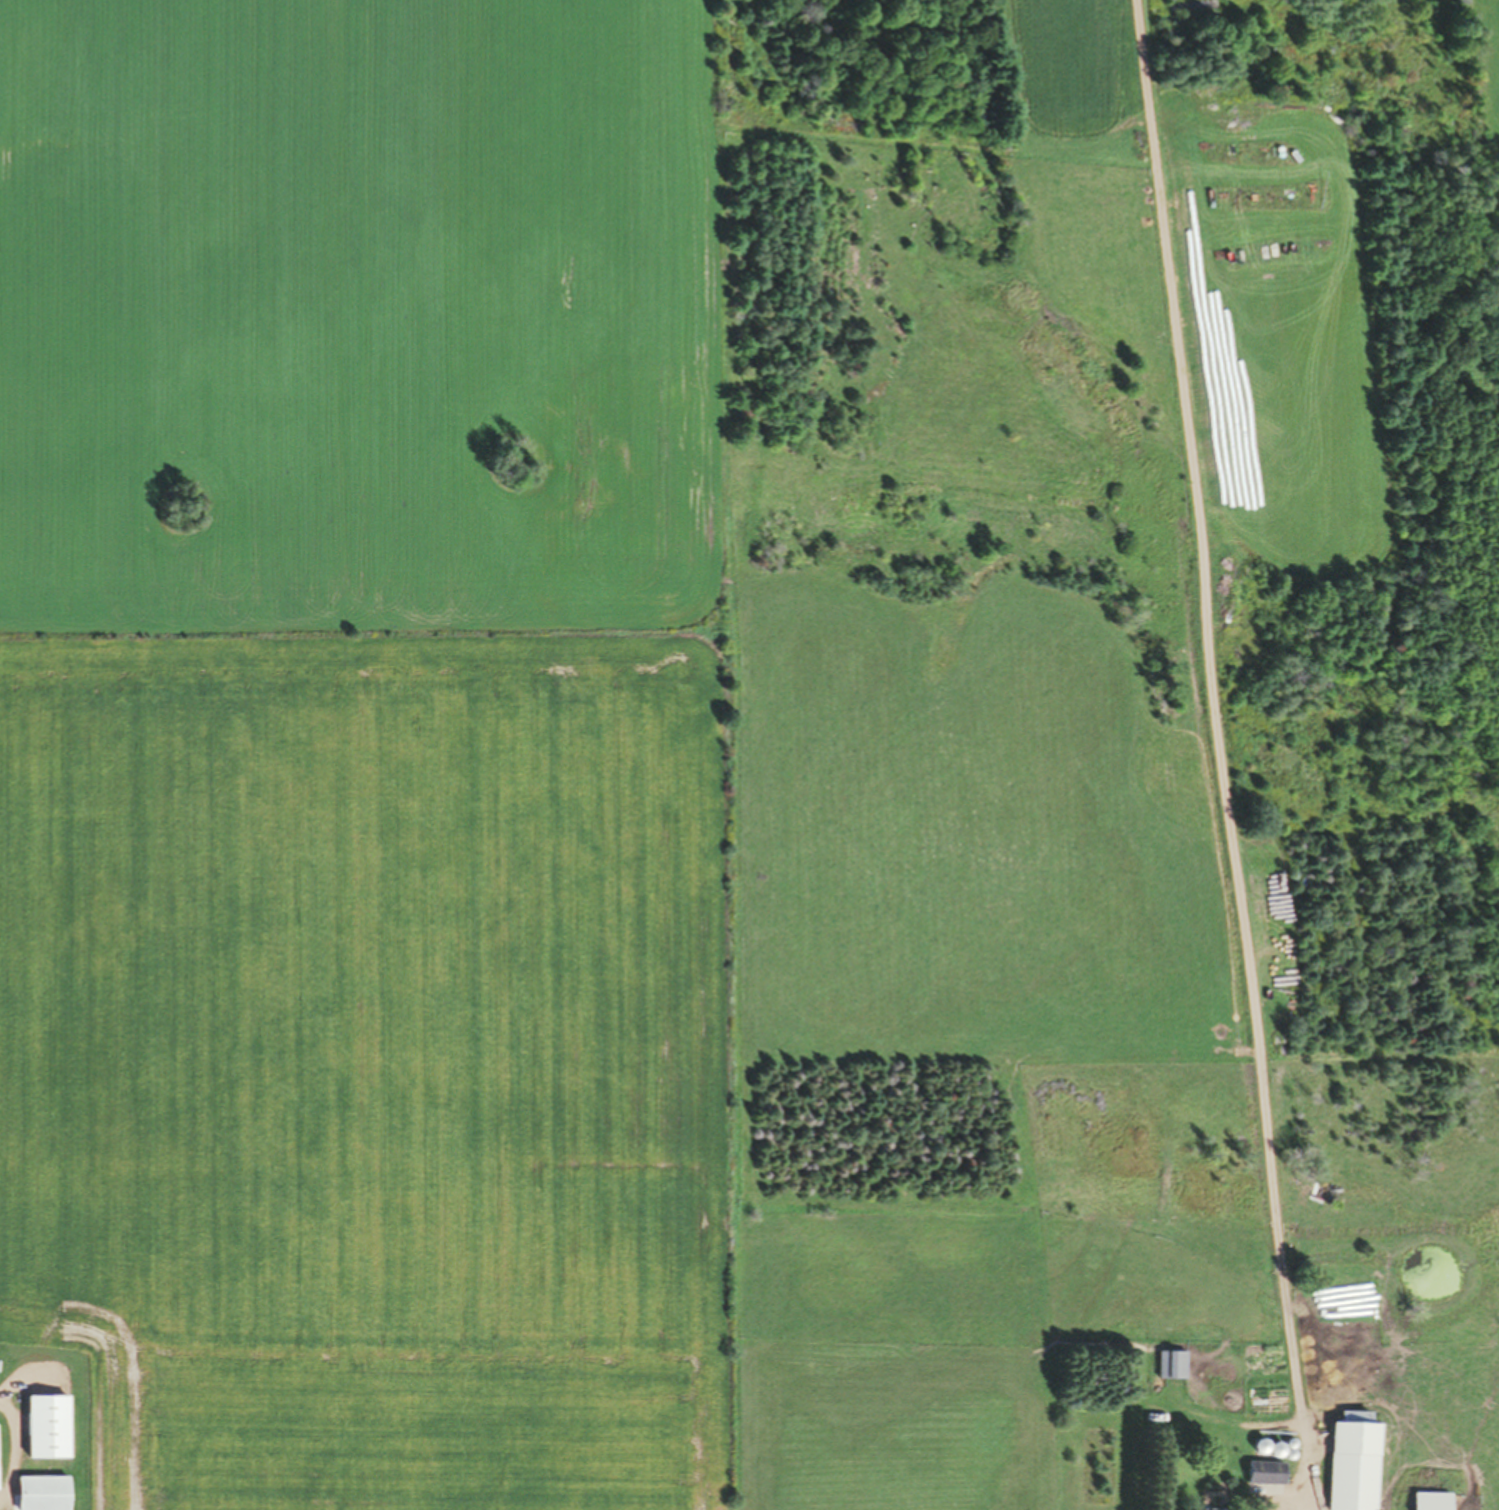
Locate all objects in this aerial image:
building: (1171, 1363)
building: (46, 1426)
building: (1268, 1448)
building: (1352, 1461)
building: (1265, 1471)
building: (41, 1492)
building: (1421, 1507)

